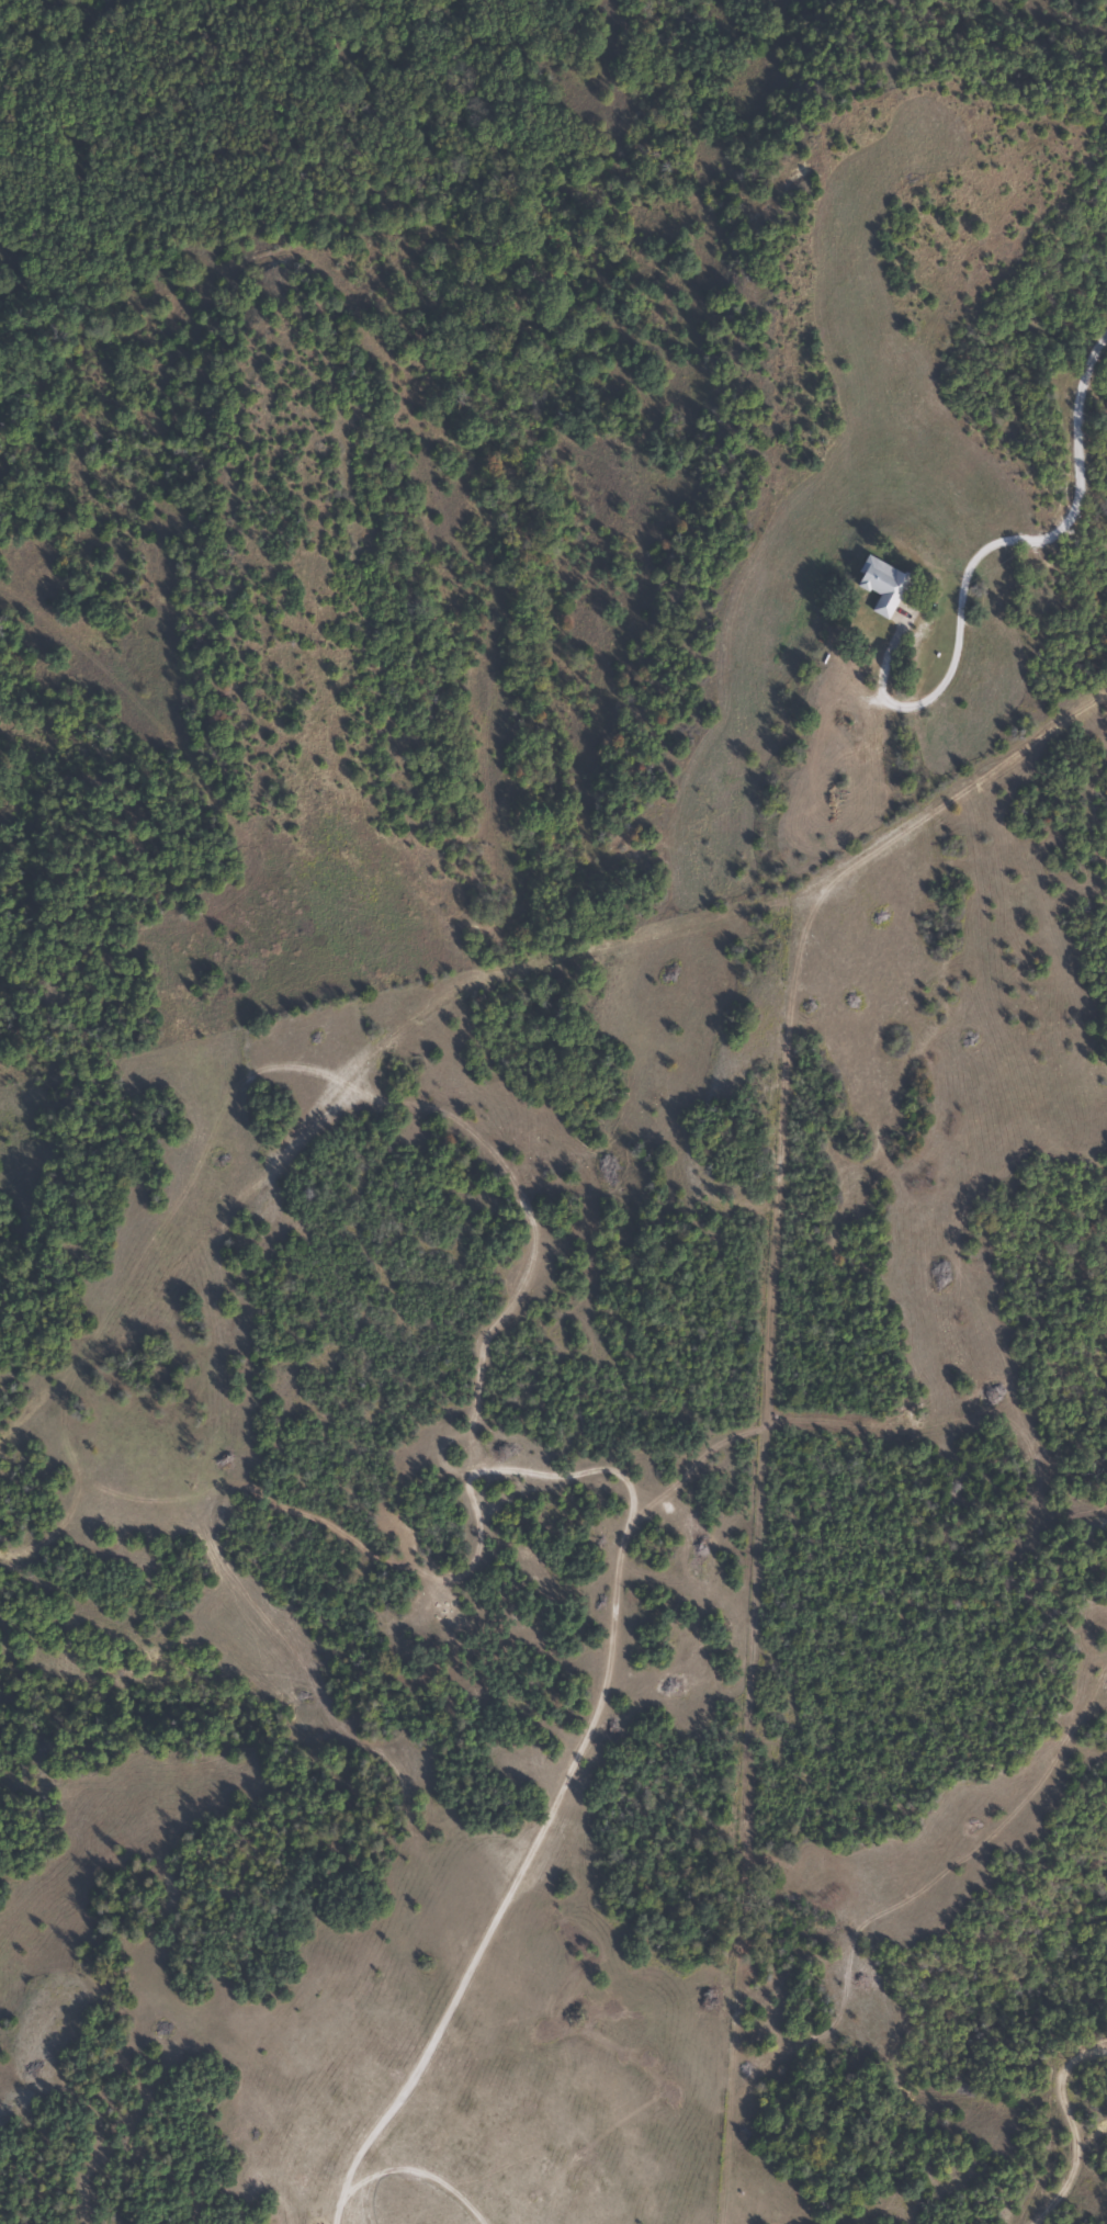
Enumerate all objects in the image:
building: (879, 586)

